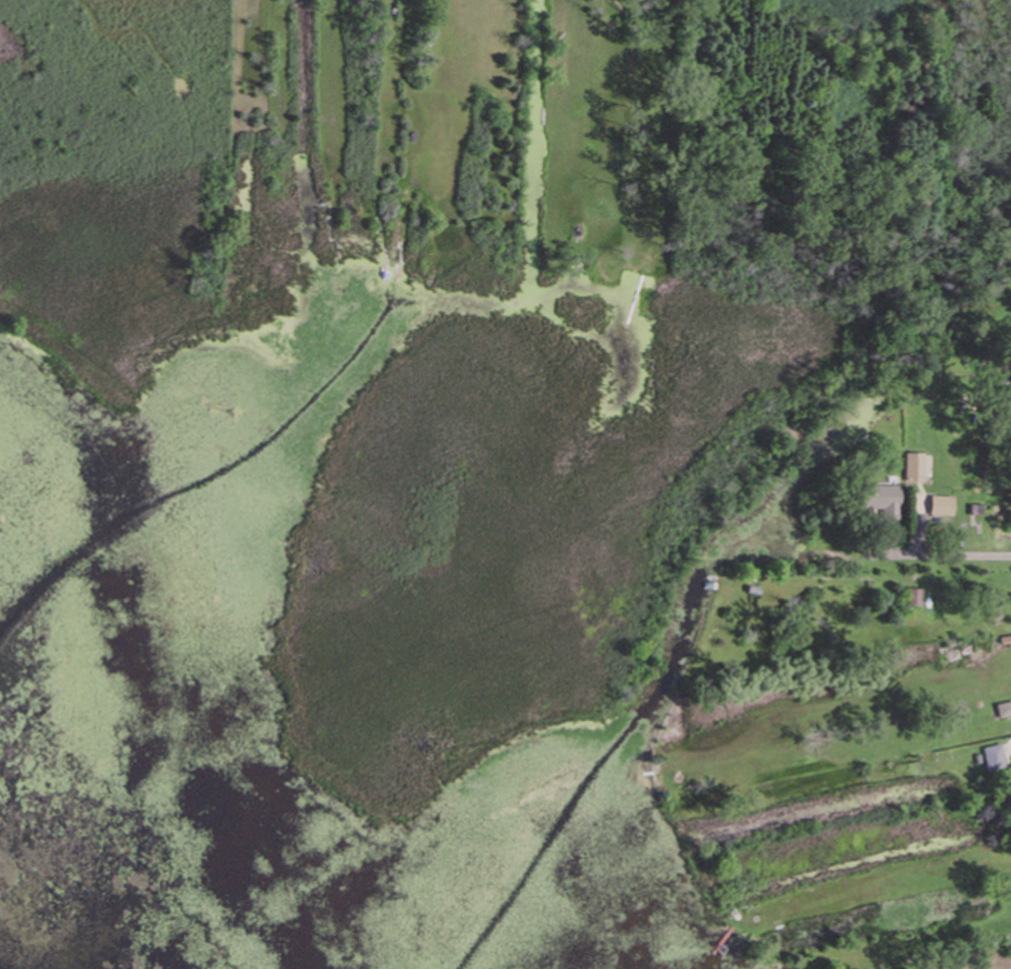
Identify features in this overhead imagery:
building: (915, 469)
building: (884, 503)
building: (943, 508)
road: (921, 566)
building: (995, 759)

